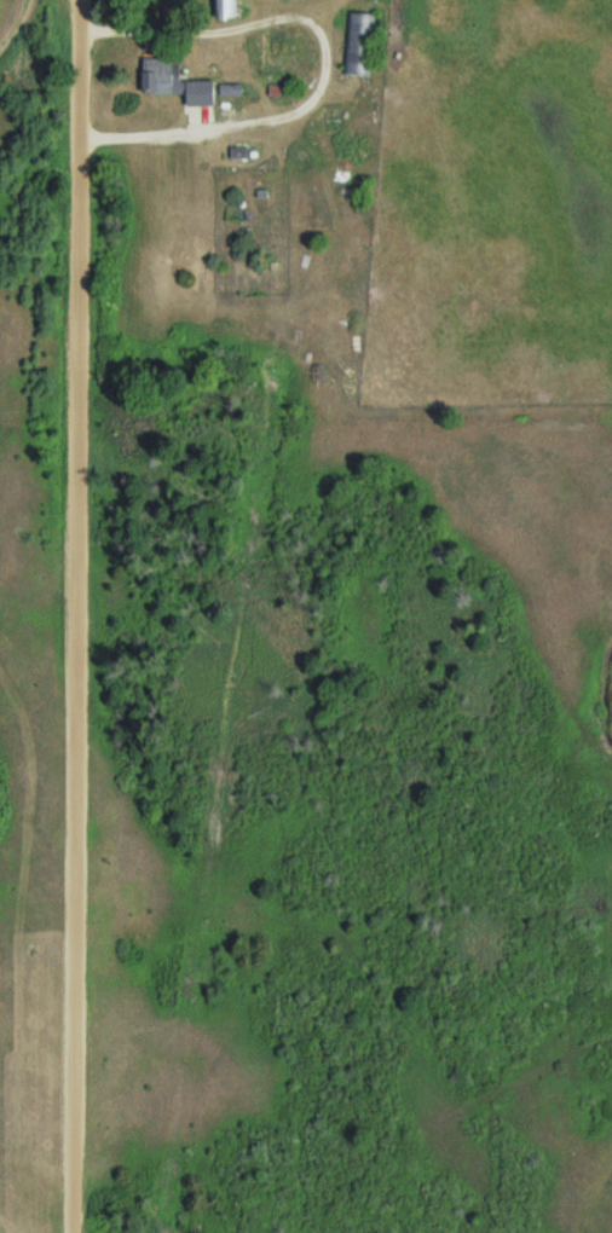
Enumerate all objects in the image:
building: (227, 10)
building: (360, 46)
road: (327, 60)
building: (161, 77)
building: (235, 92)
road: (75, 616)

